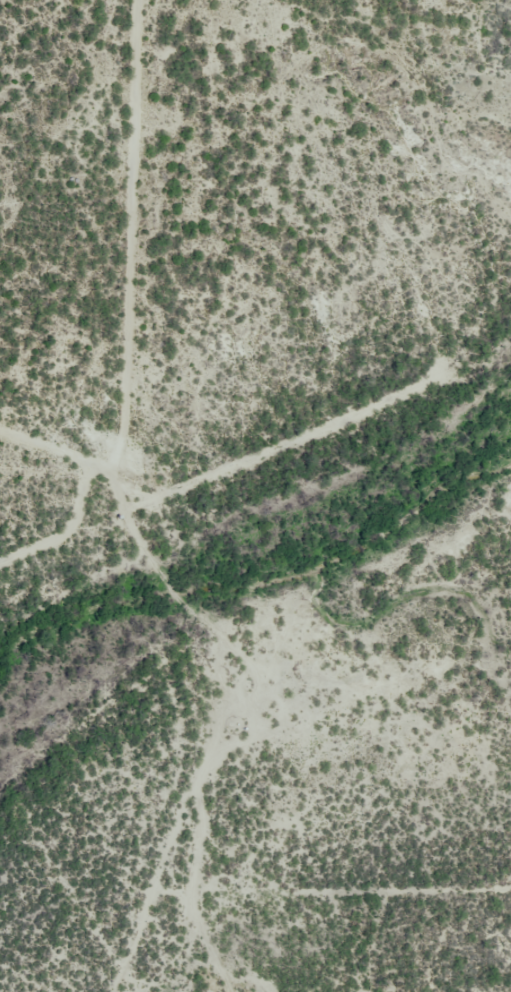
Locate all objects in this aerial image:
road: (99, 250)
road: (178, 866)

